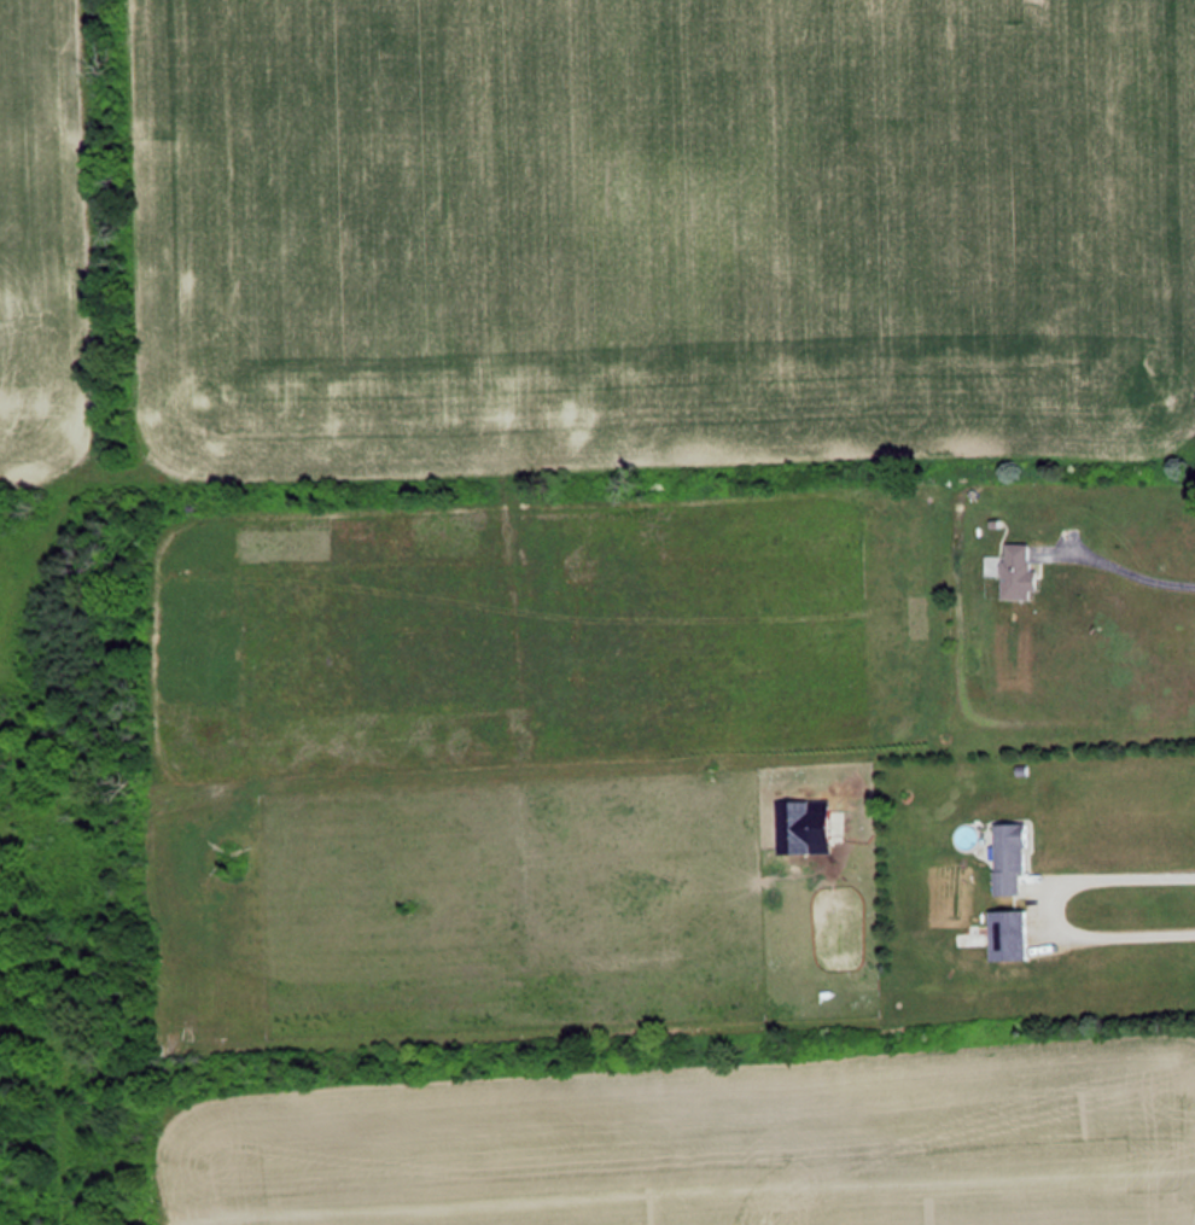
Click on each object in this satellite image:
road: (1125, 562)
building: (1013, 571)
building: (1005, 859)
road: (1054, 905)
building: (1003, 937)

